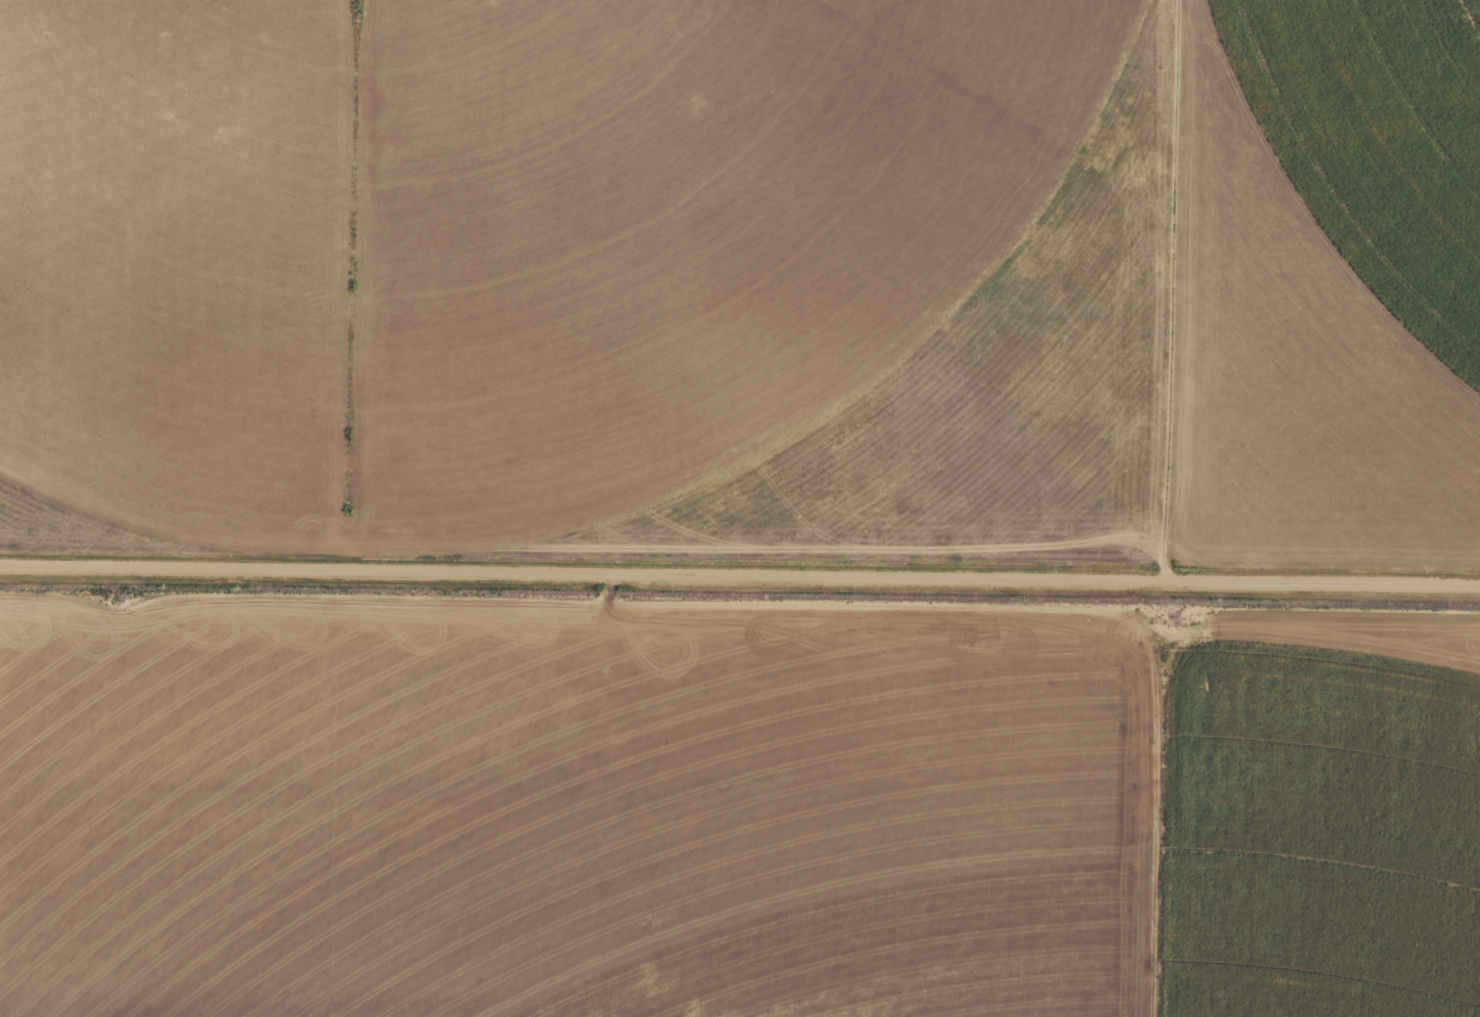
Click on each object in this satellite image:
road: (740, 578)

